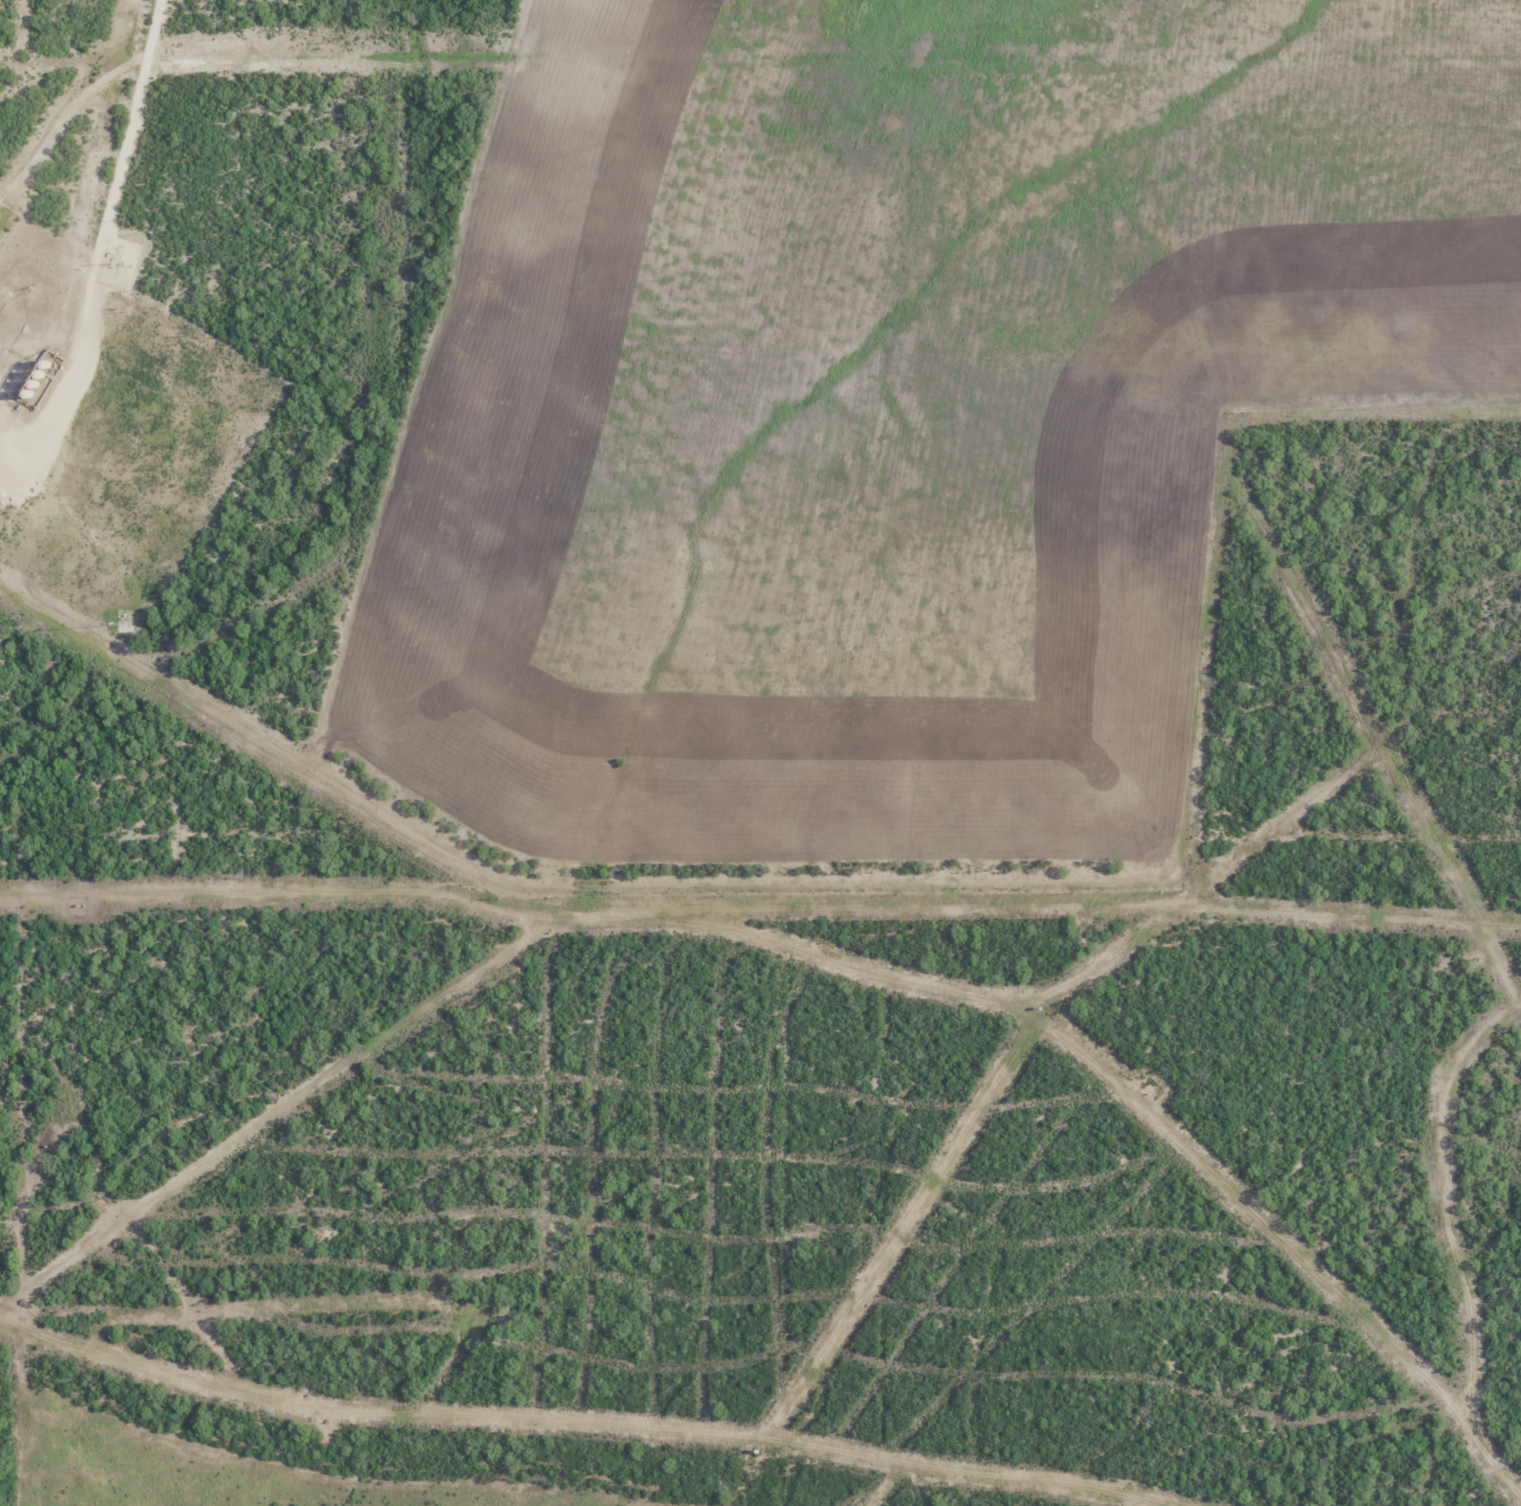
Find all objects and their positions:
road: (834, 1018)
road: (580, 1421)

